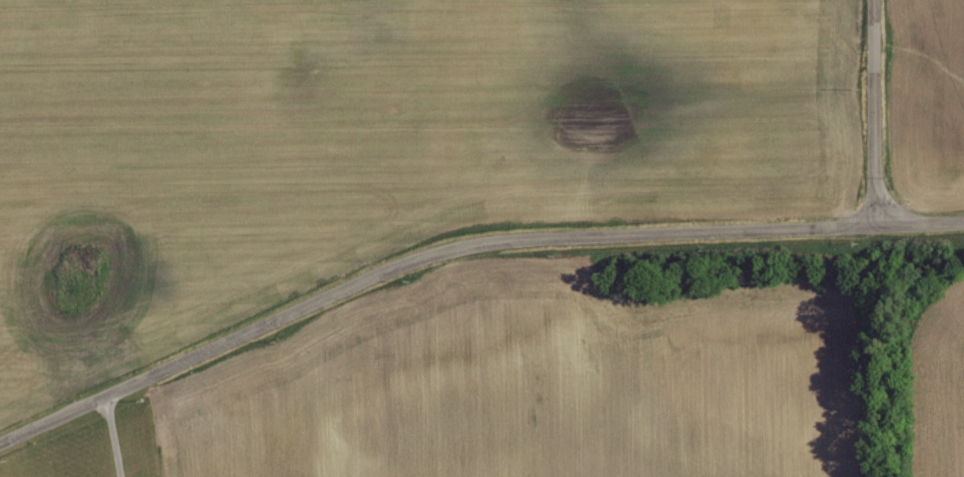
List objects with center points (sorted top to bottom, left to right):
crop: (933, 95)
road: (873, 113)
crop: (382, 135)
road: (462, 247)
crop: (955, 363)
crop: (534, 391)
road: (112, 437)

